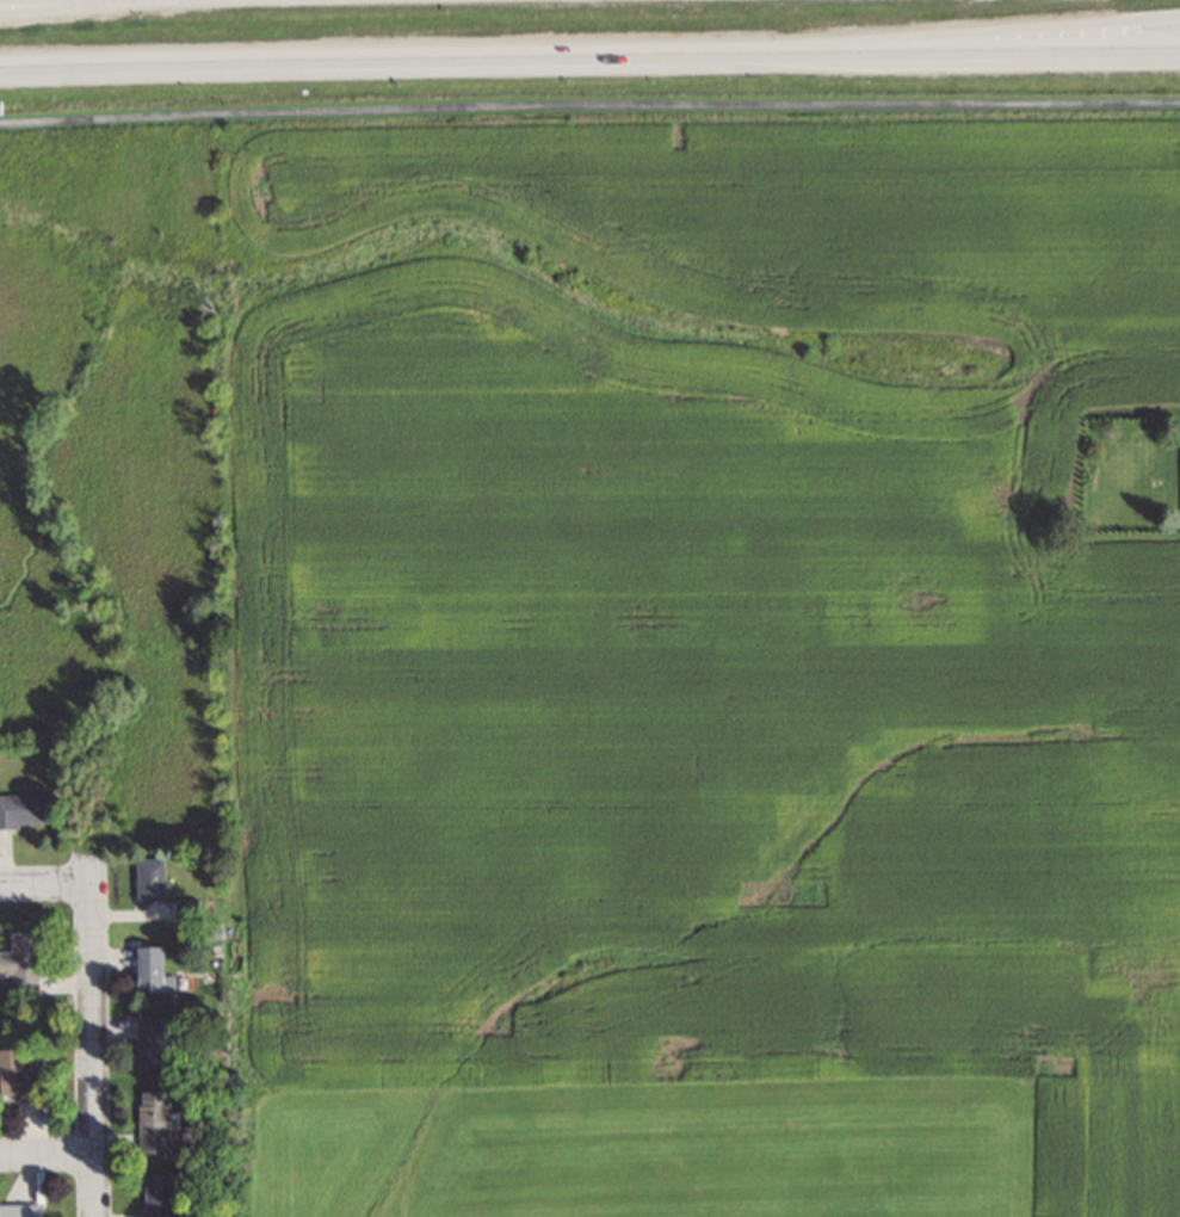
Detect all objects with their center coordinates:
road: (76, 7)
road: (939, 32)
road: (589, 56)
road: (589, 103)
crop: (708, 611)
building: (29, 809)
building: (154, 877)
road: (45, 884)
building: (24, 963)
building: (156, 968)
road: (92, 1034)
building: (159, 1040)
building: (21, 1075)
building: (161, 1122)
park: (634, 1145)
road: (47, 1153)
building: (161, 1194)
building: (23, 1210)

